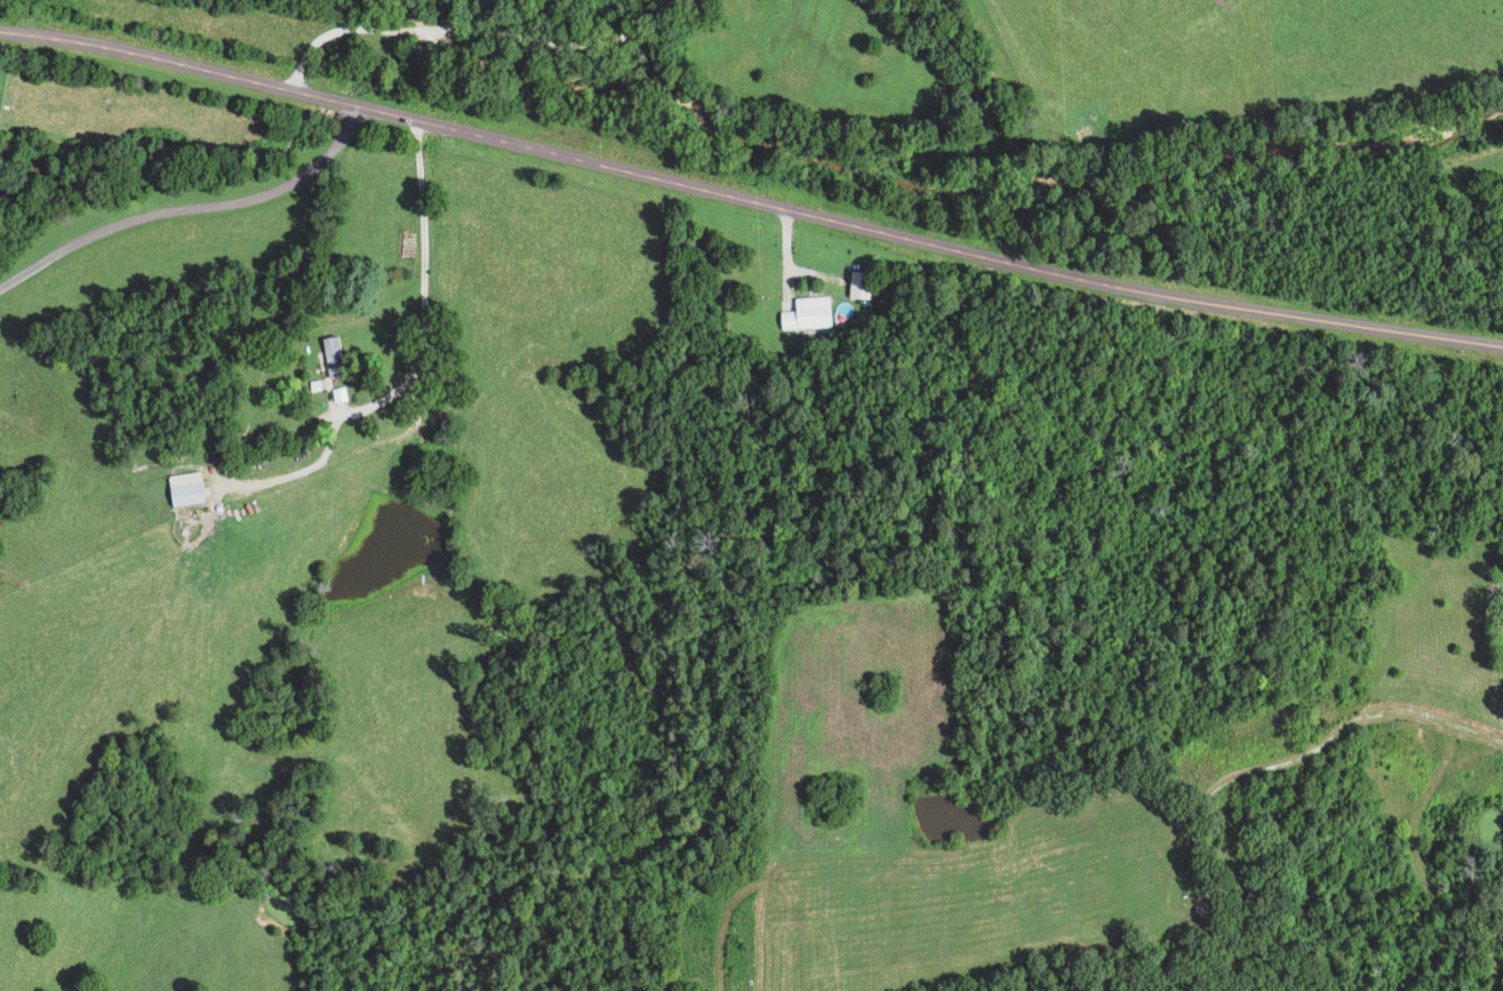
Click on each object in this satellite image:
road: (475, 34)
road: (749, 201)
road: (190, 211)
building: (859, 286)
building: (806, 315)
building: (331, 358)
building: (182, 490)
park: (1498, 579)

